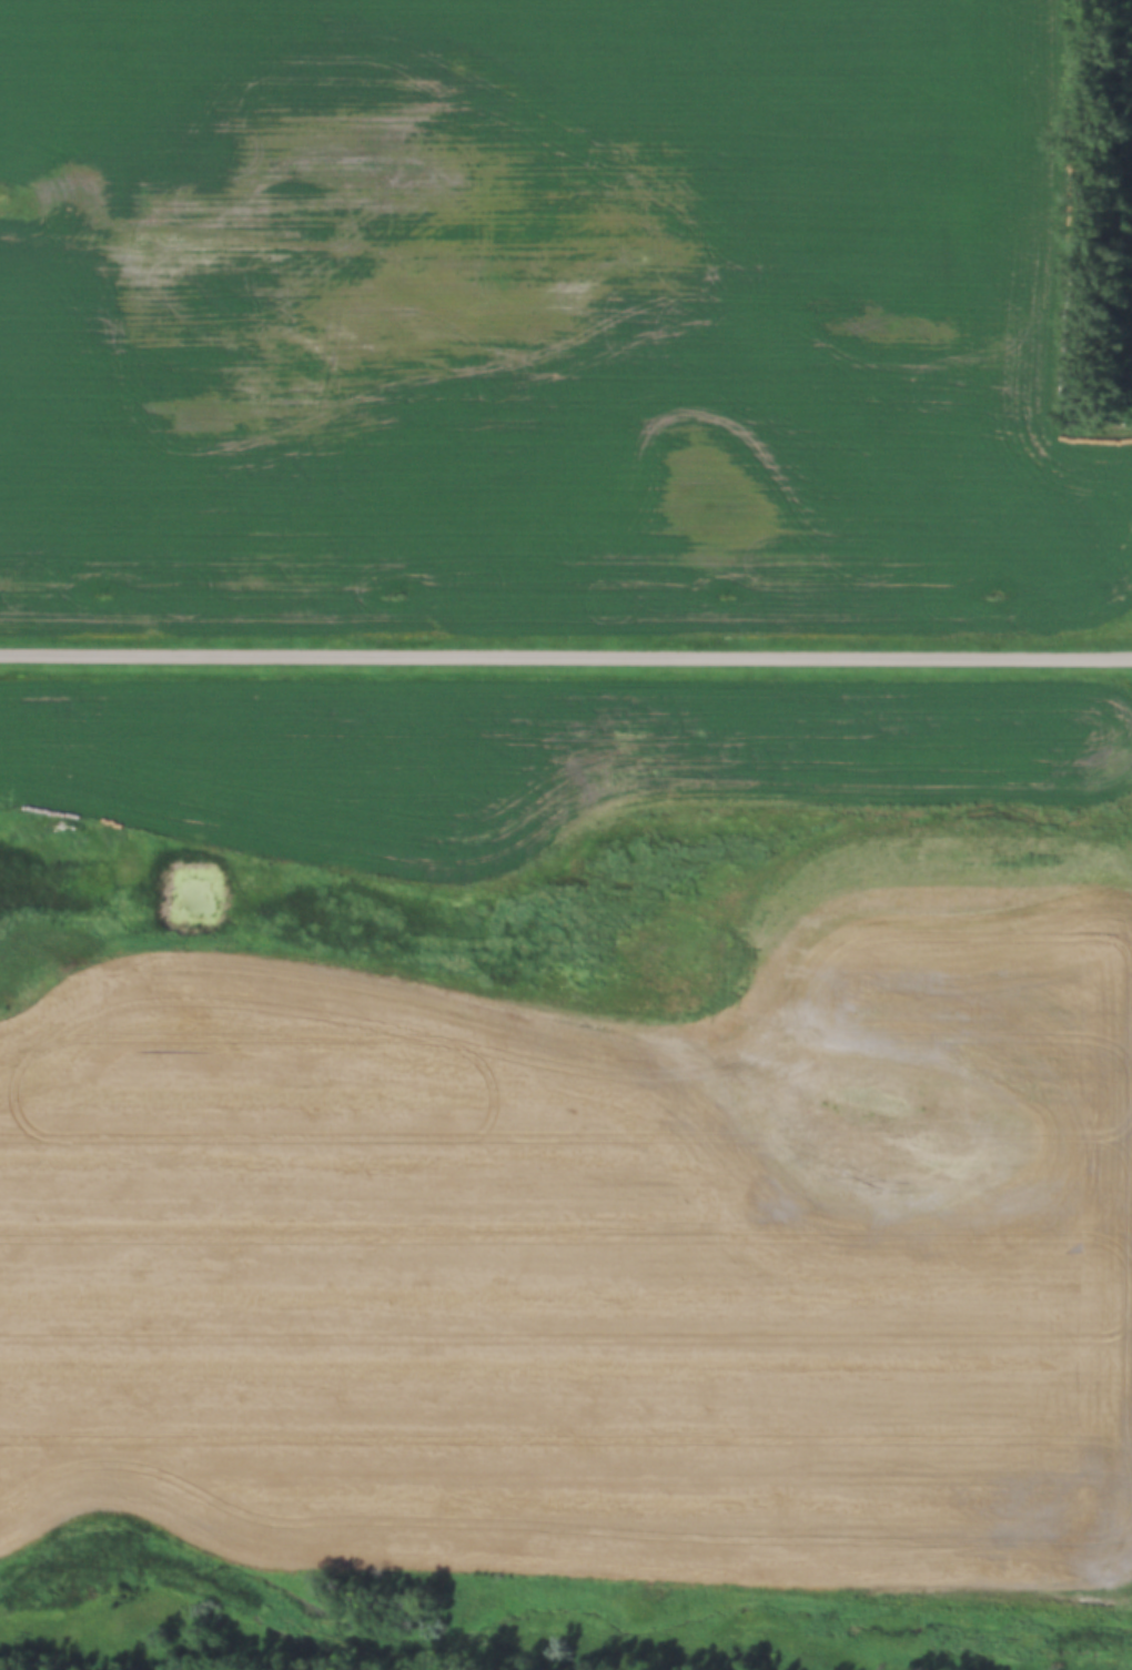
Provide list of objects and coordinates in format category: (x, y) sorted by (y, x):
road: (566, 656)
building: (80, 733)

